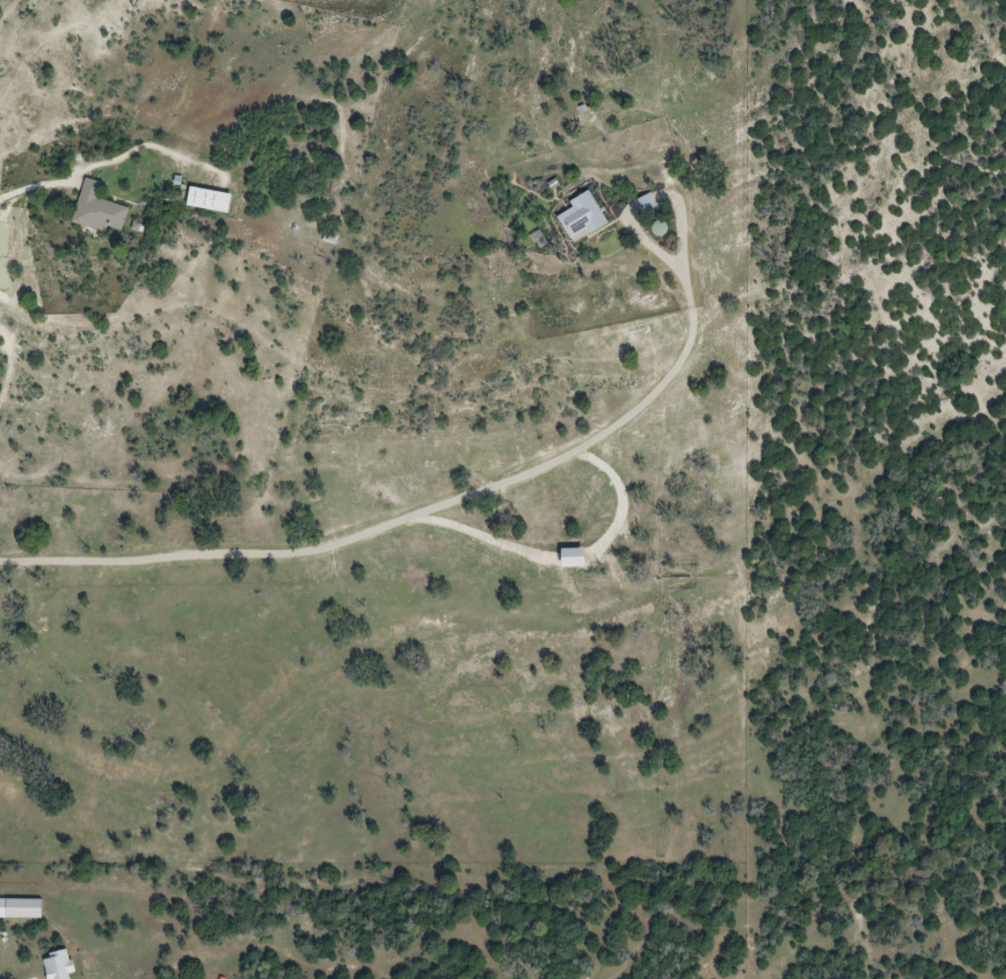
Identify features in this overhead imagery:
road: (45, 184)
building: (202, 199)
building: (643, 202)
building: (92, 208)
building: (579, 215)
road: (618, 495)
road: (414, 512)
road: (489, 537)
building: (566, 557)
building: (19, 908)

